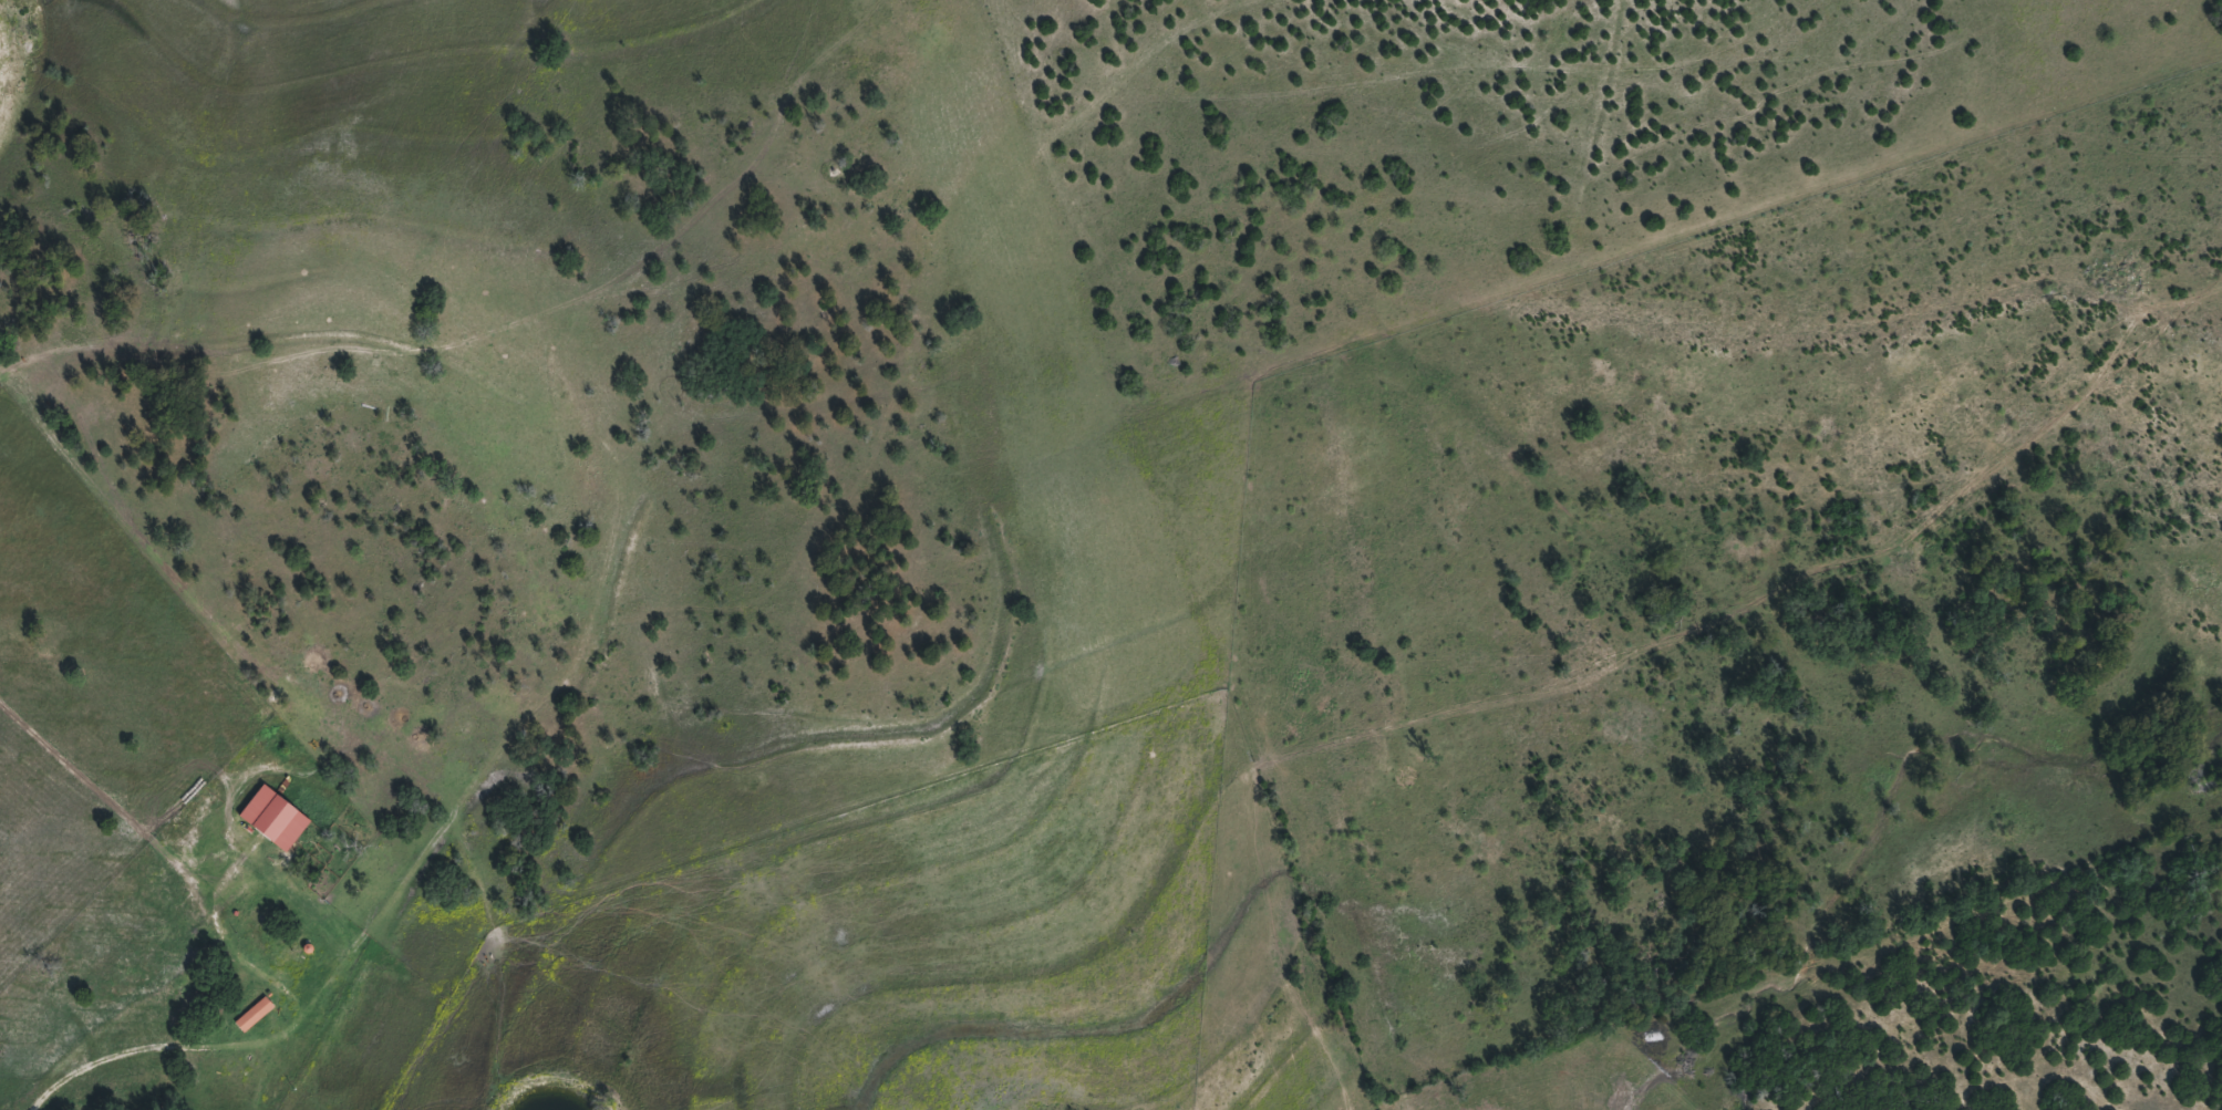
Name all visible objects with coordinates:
building: (275, 818)
building: (254, 1014)

